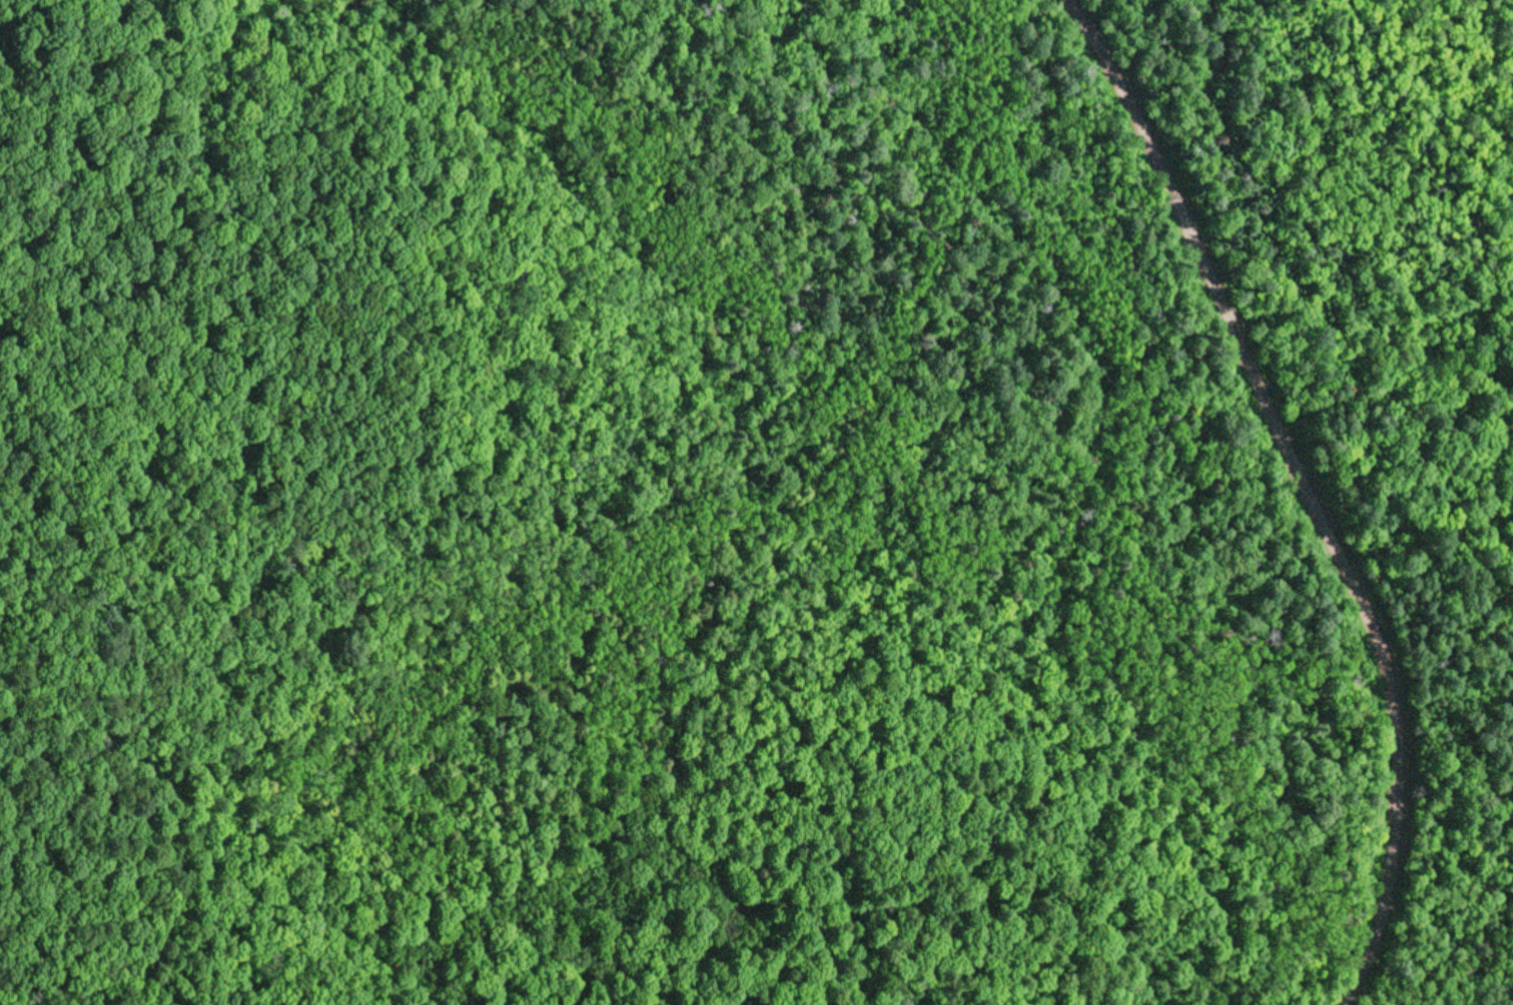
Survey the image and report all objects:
road: (1307, 486)
road: (1456, 725)

